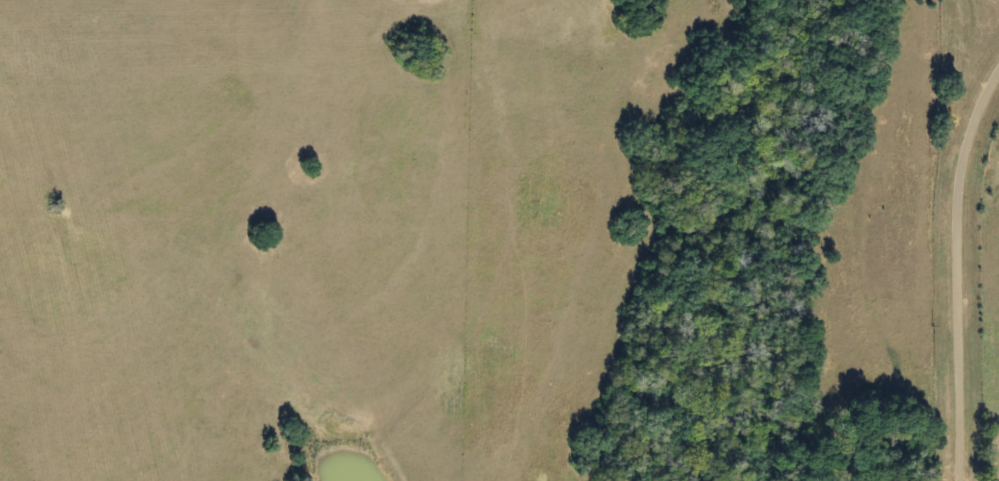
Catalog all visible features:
road: (962, 279)

